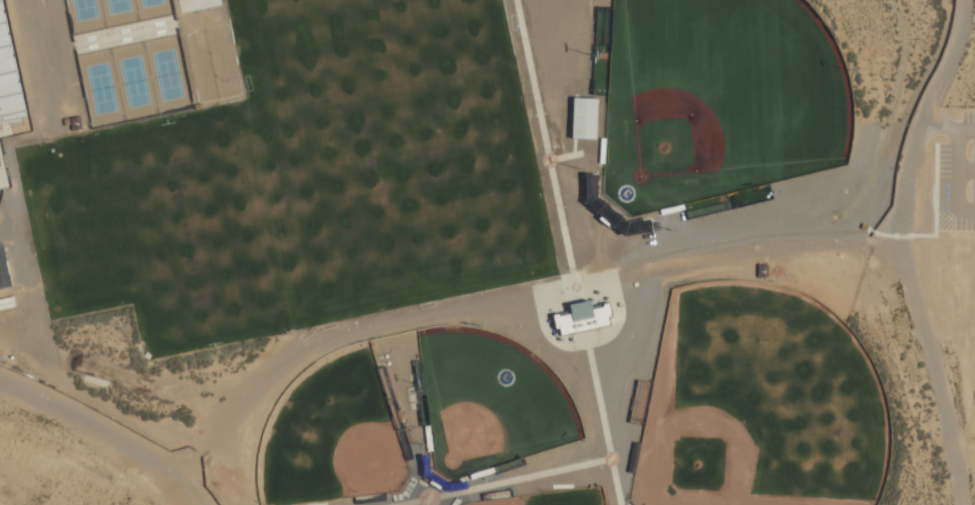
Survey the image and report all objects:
park: (151, 3)
park: (196, 4)
park: (117, 6)
park: (84, 10)
street lamp: (527, 41)
park: (601, 46)
street lamp: (939, 62)
park: (212, 63)
park: (167, 75)
building: (7, 80)
park: (134, 81)
park: (101, 87)
stadium: (10, 96)
road: (534, 99)
park: (719, 99)
street lamp: (540, 105)
street lamp: (911, 117)
building: (582, 119)
building: (64, 121)
building: (74, 123)
road: (938, 125)
road: (13, 129)
street lamp: (551, 151)
road: (577, 152)
road: (1, 166)
street lamp: (896, 170)
road: (965, 170)
road: (954, 171)
parking lot: (956, 174)
park: (726, 201)
street lamp: (562, 207)
building: (611, 209)
road: (934, 223)
building: (655, 227)
building: (862, 227)
park: (190, 233)
street lamp: (871, 237)
road: (904, 250)
street lamp: (575, 269)
building: (760, 271)
building: (3, 274)
street lamp: (898, 289)
road: (542, 308)
building: (580, 318)
street lamp: (916, 346)
street lamp: (583, 351)
park: (388, 399)
park: (488, 401)
park: (762, 403)
street lamp: (935, 417)
road: (602, 422)
park: (332, 433)
park: (507, 465)
building: (412, 480)
road: (502, 481)
street lamp: (947, 482)
building: (404, 490)
park: (553, 497)
park: (369, 499)
street lamp: (427, 500)
building: (455, 502)

